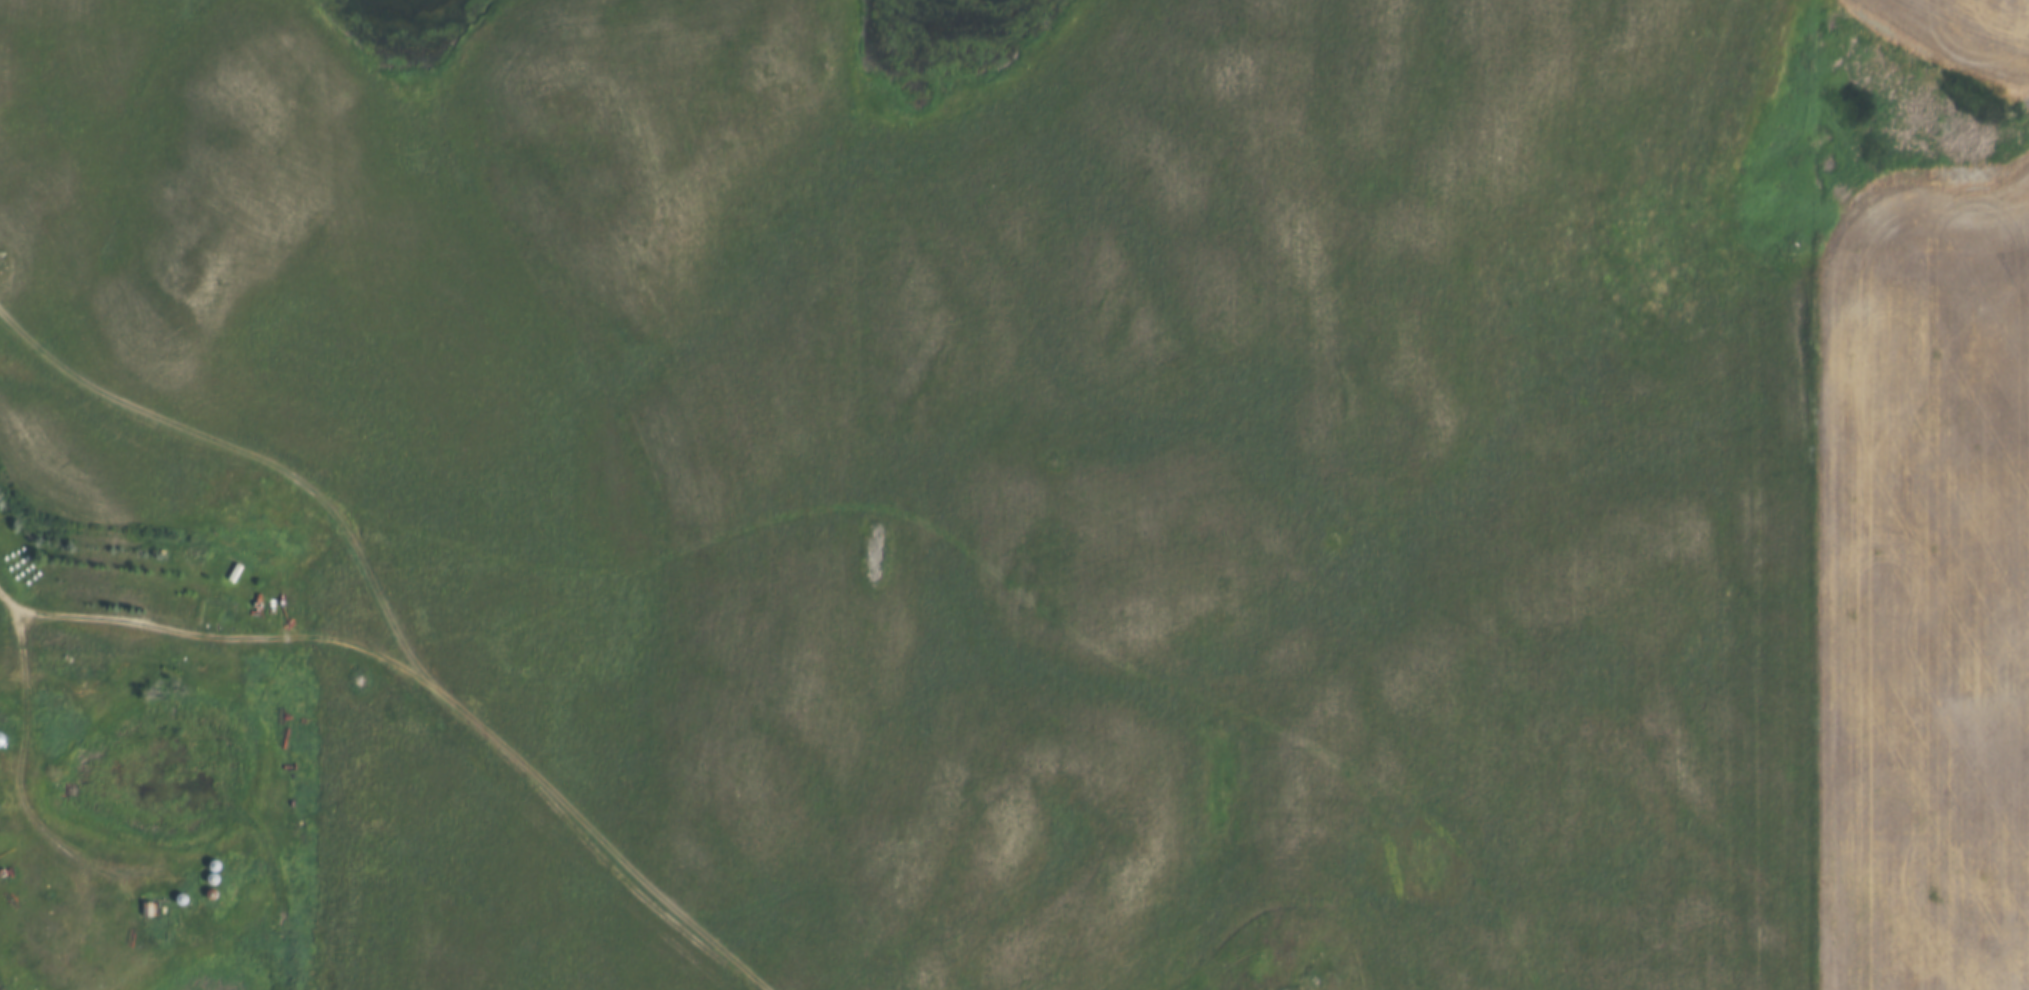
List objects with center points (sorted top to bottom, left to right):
building: (72, 660)
building: (4, 706)
building: (3, 721)
road: (394, 731)
building: (2, 738)
road: (19, 776)
building: (152, 909)

